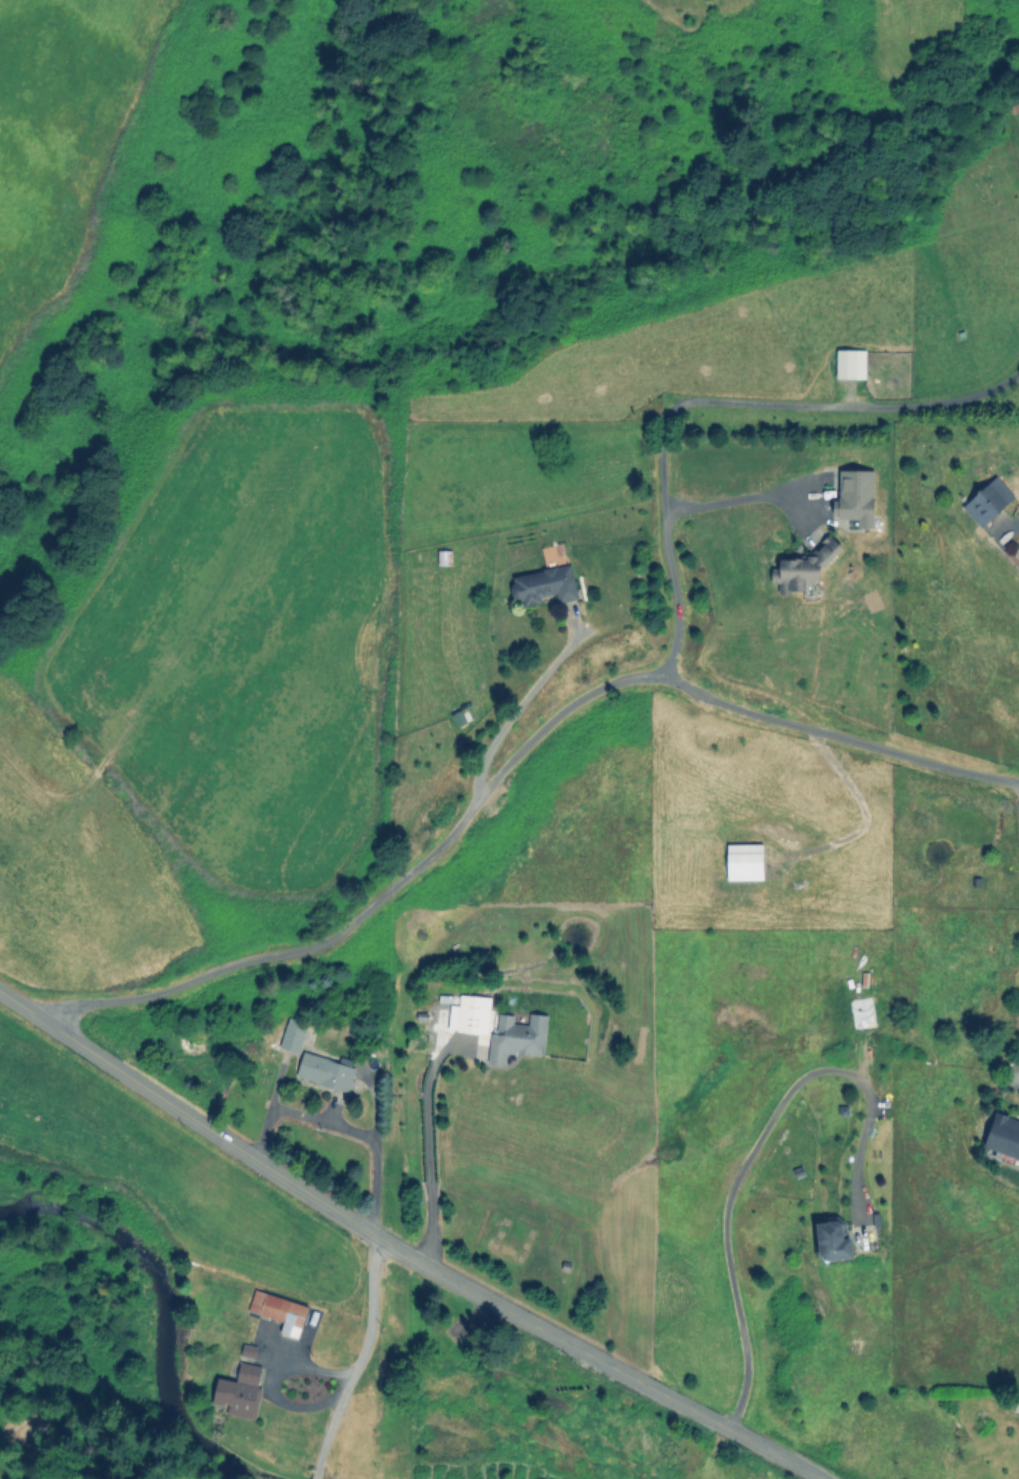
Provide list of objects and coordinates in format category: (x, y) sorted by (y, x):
building: (849, 363)
road: (709, 399)
building: (854, 497)
road: (745, 498)
building: (987, 501)
building: (803, 566)
building: (543, 585)
road: (523, 705)
road: (509, 763)
building: (744, 861)
building: (469, 1014)
building: (291, 1034)
building: (516, 1037)
building: (324, 1071)
road: (341, 1127)
building: (1003, 1135)
road: (428, 1144)
road: (752, 1149)
building: (832, 1241)
road: (401, 1251)
building: (278, 1311)
building: (247, 1350)
road: (359, 1358)
building: (239, 1391)
road: (316, 1476)

